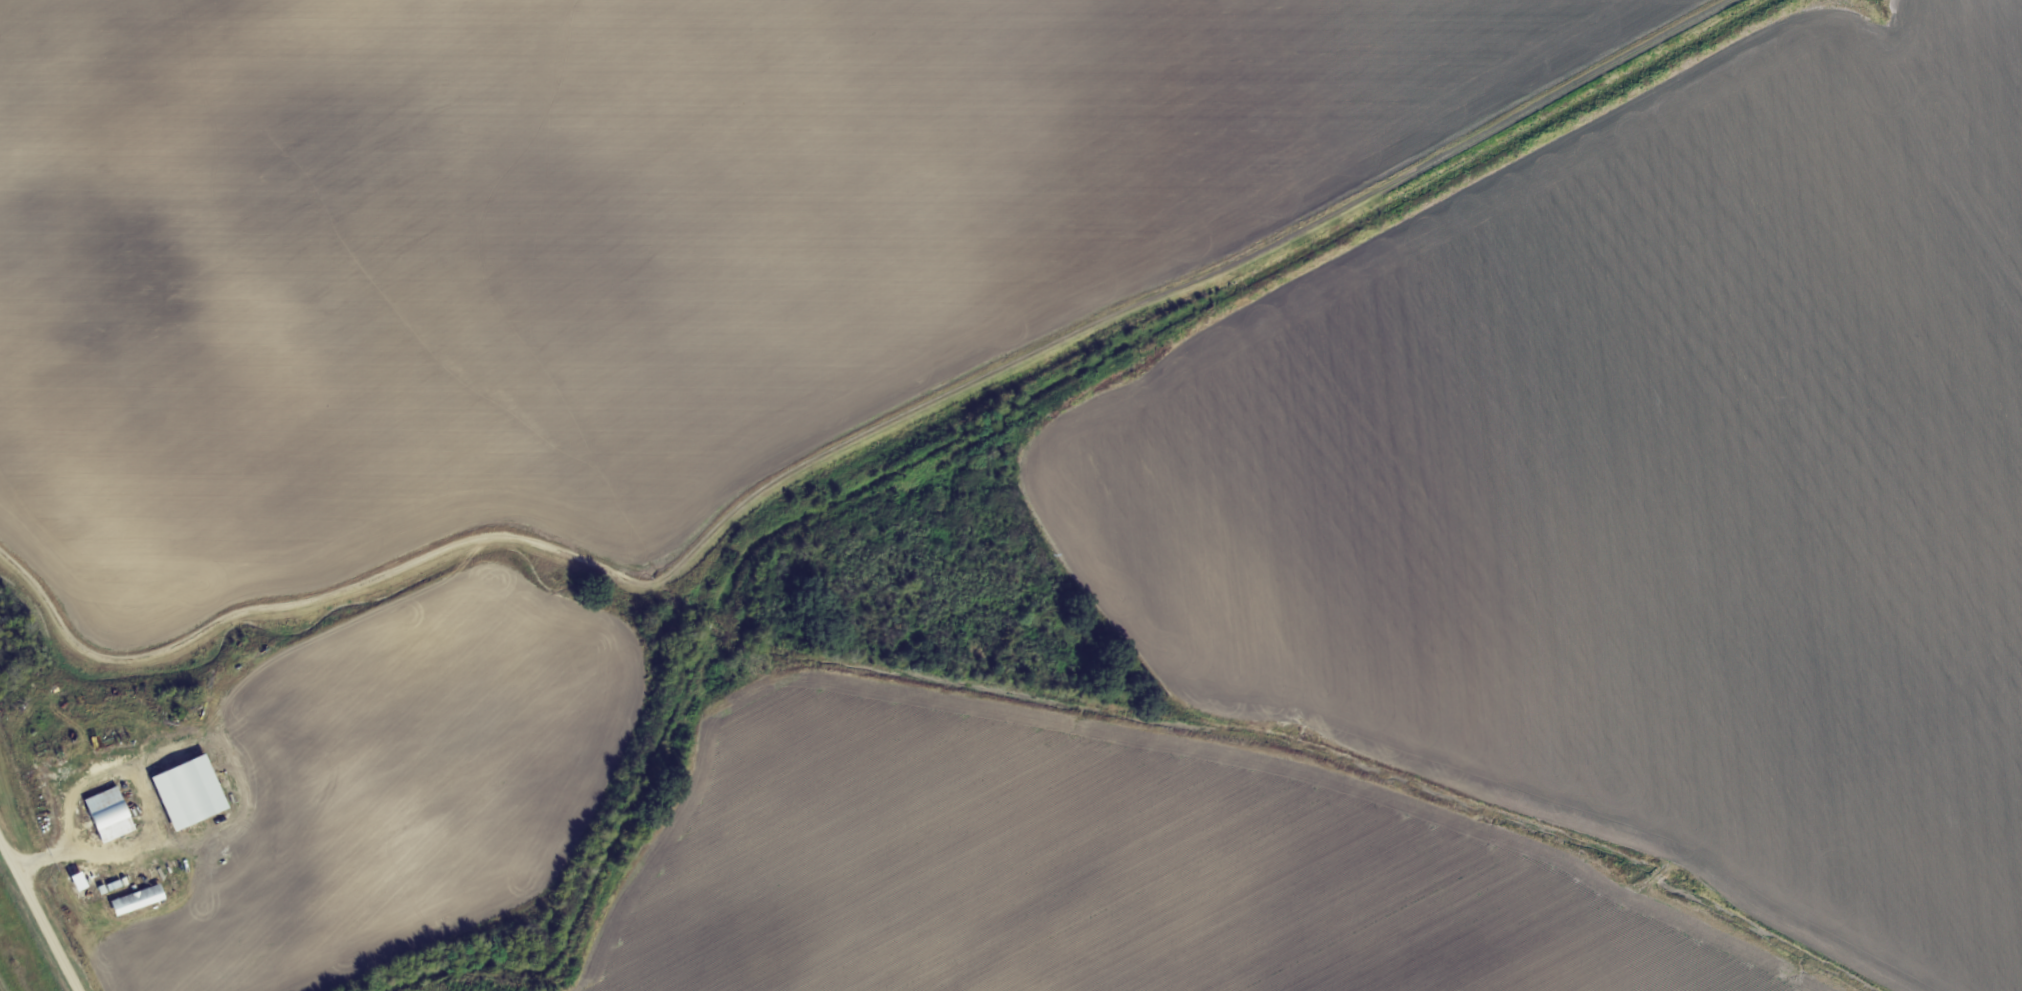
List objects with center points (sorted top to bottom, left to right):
building: (190, 792)
building: (111, 815)
road: (43, 859)
building: (137, 900)
road: (41, 912)
railway: (13, 966)

